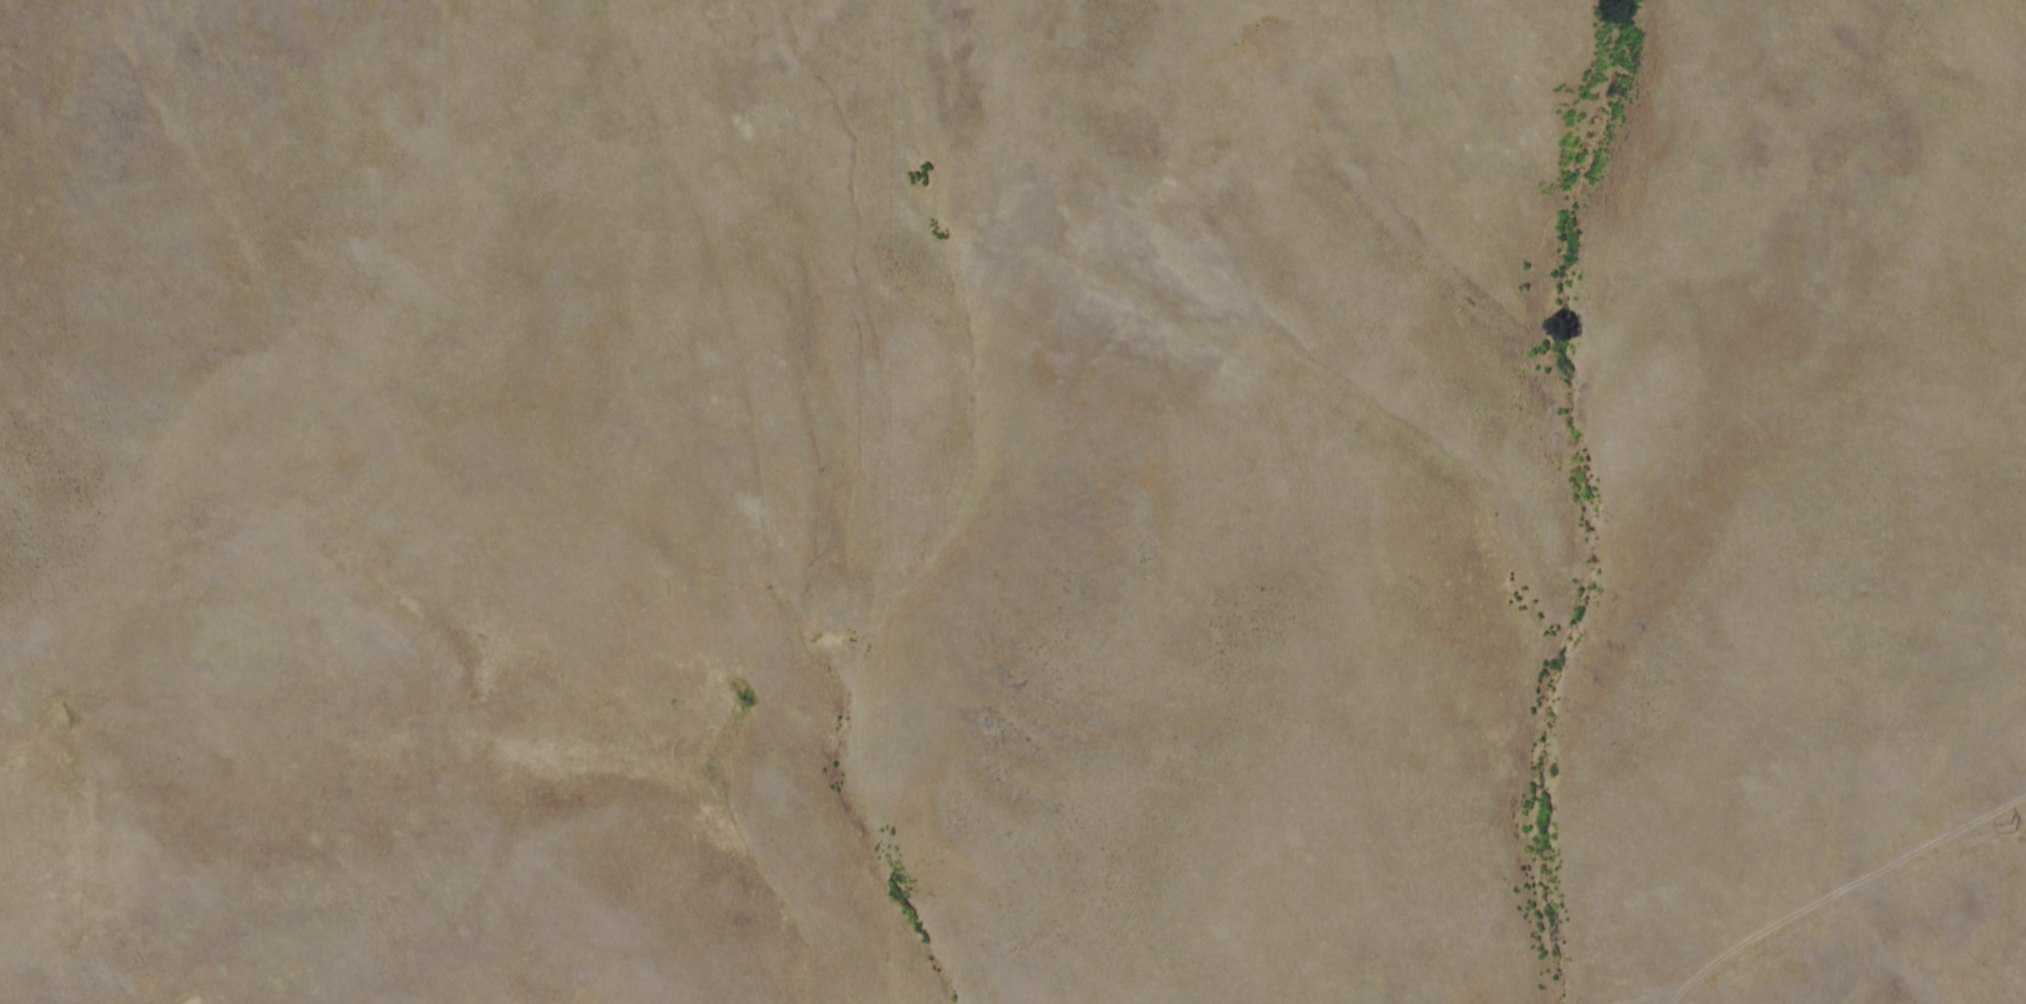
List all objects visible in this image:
power tower: (2009, 829)
road: (1839, 888)

